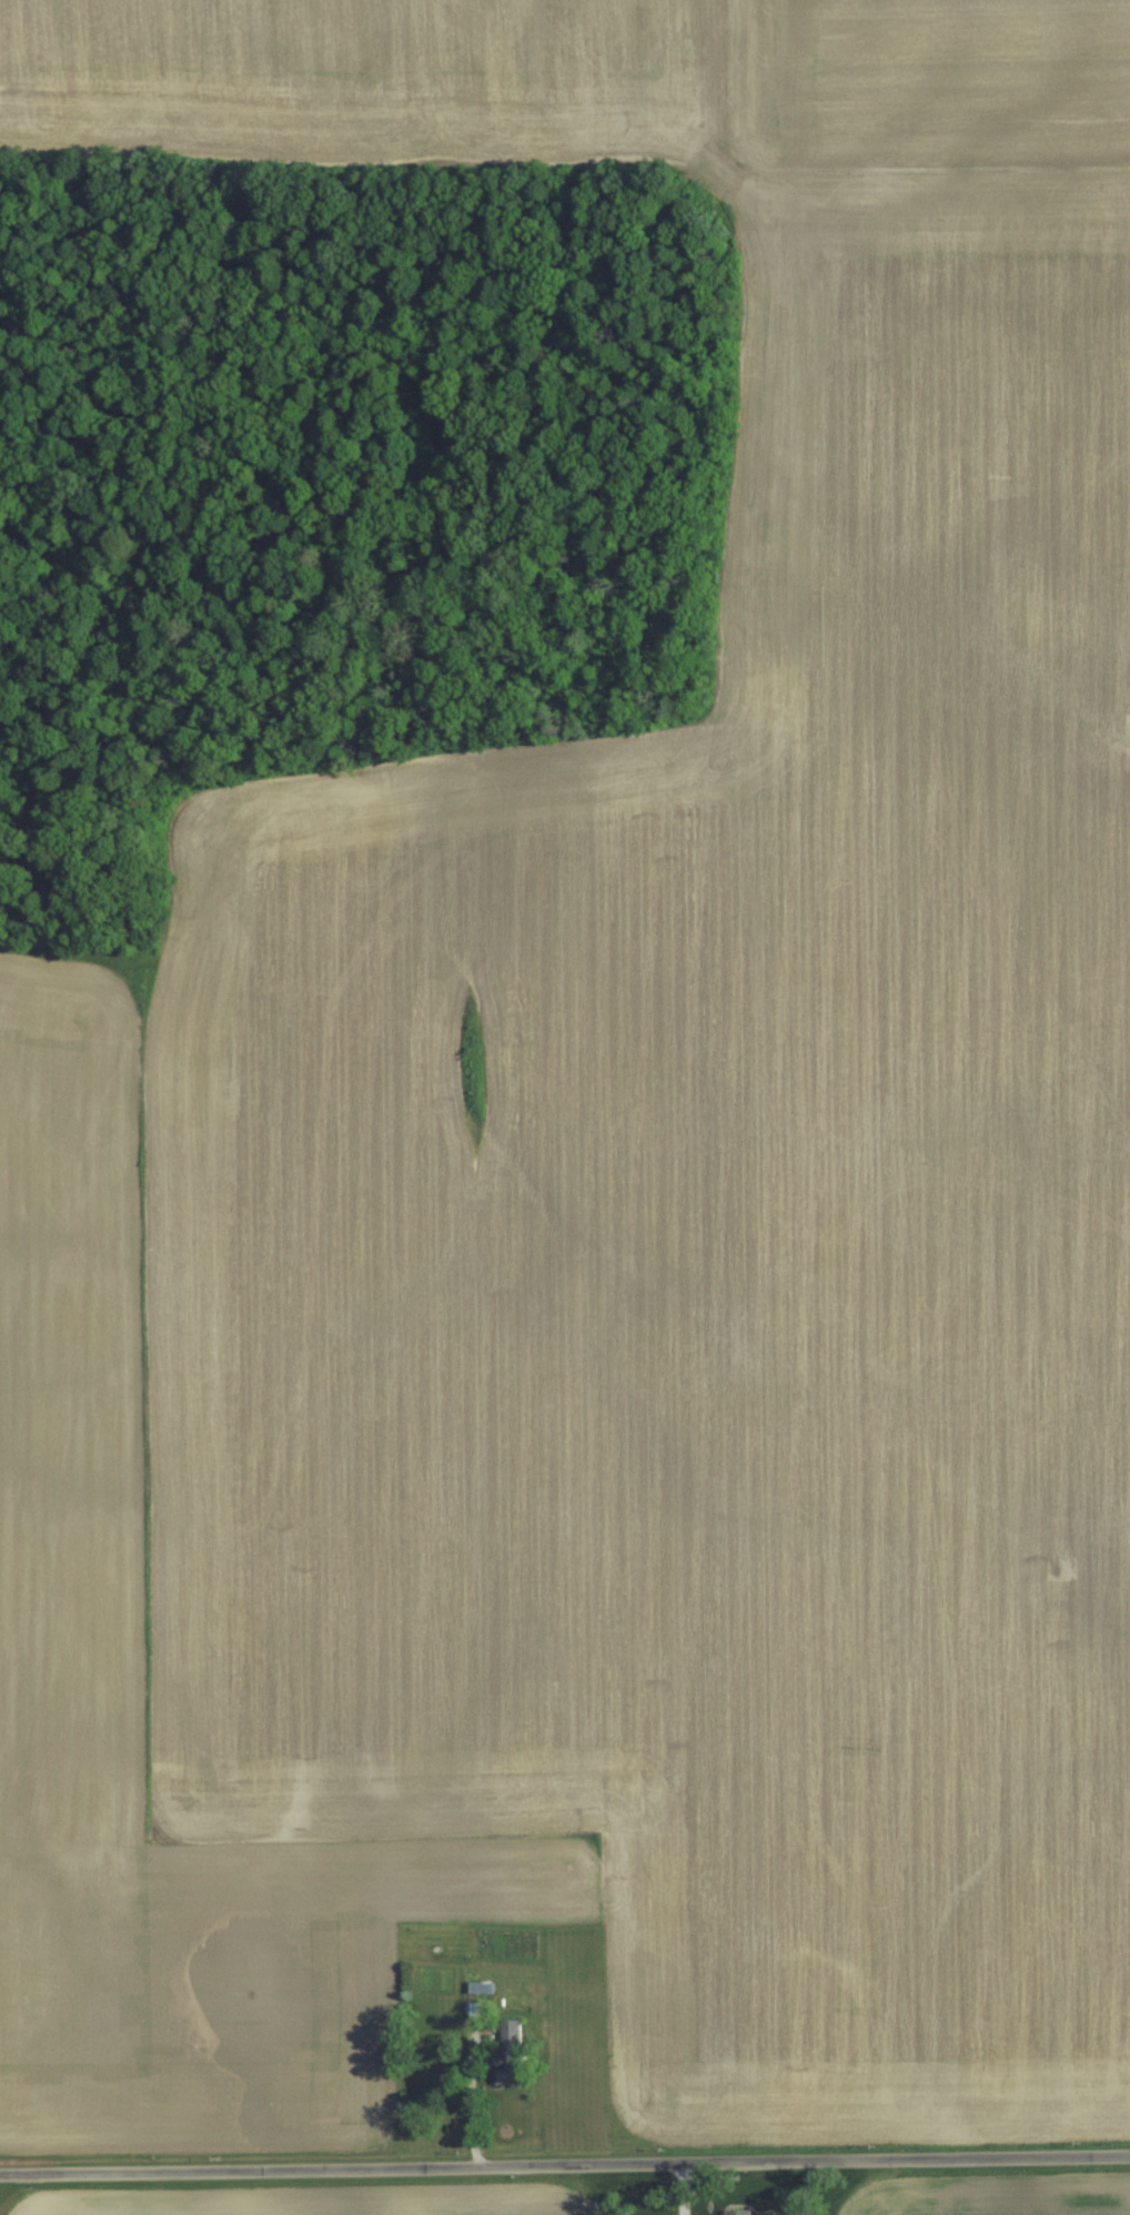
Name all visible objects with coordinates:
building: (484, 1988)
building: (513, 2050)
road: (474, 2092)
road: (564, 2164)
road: (685, 2188)
building: (740, 2213)

